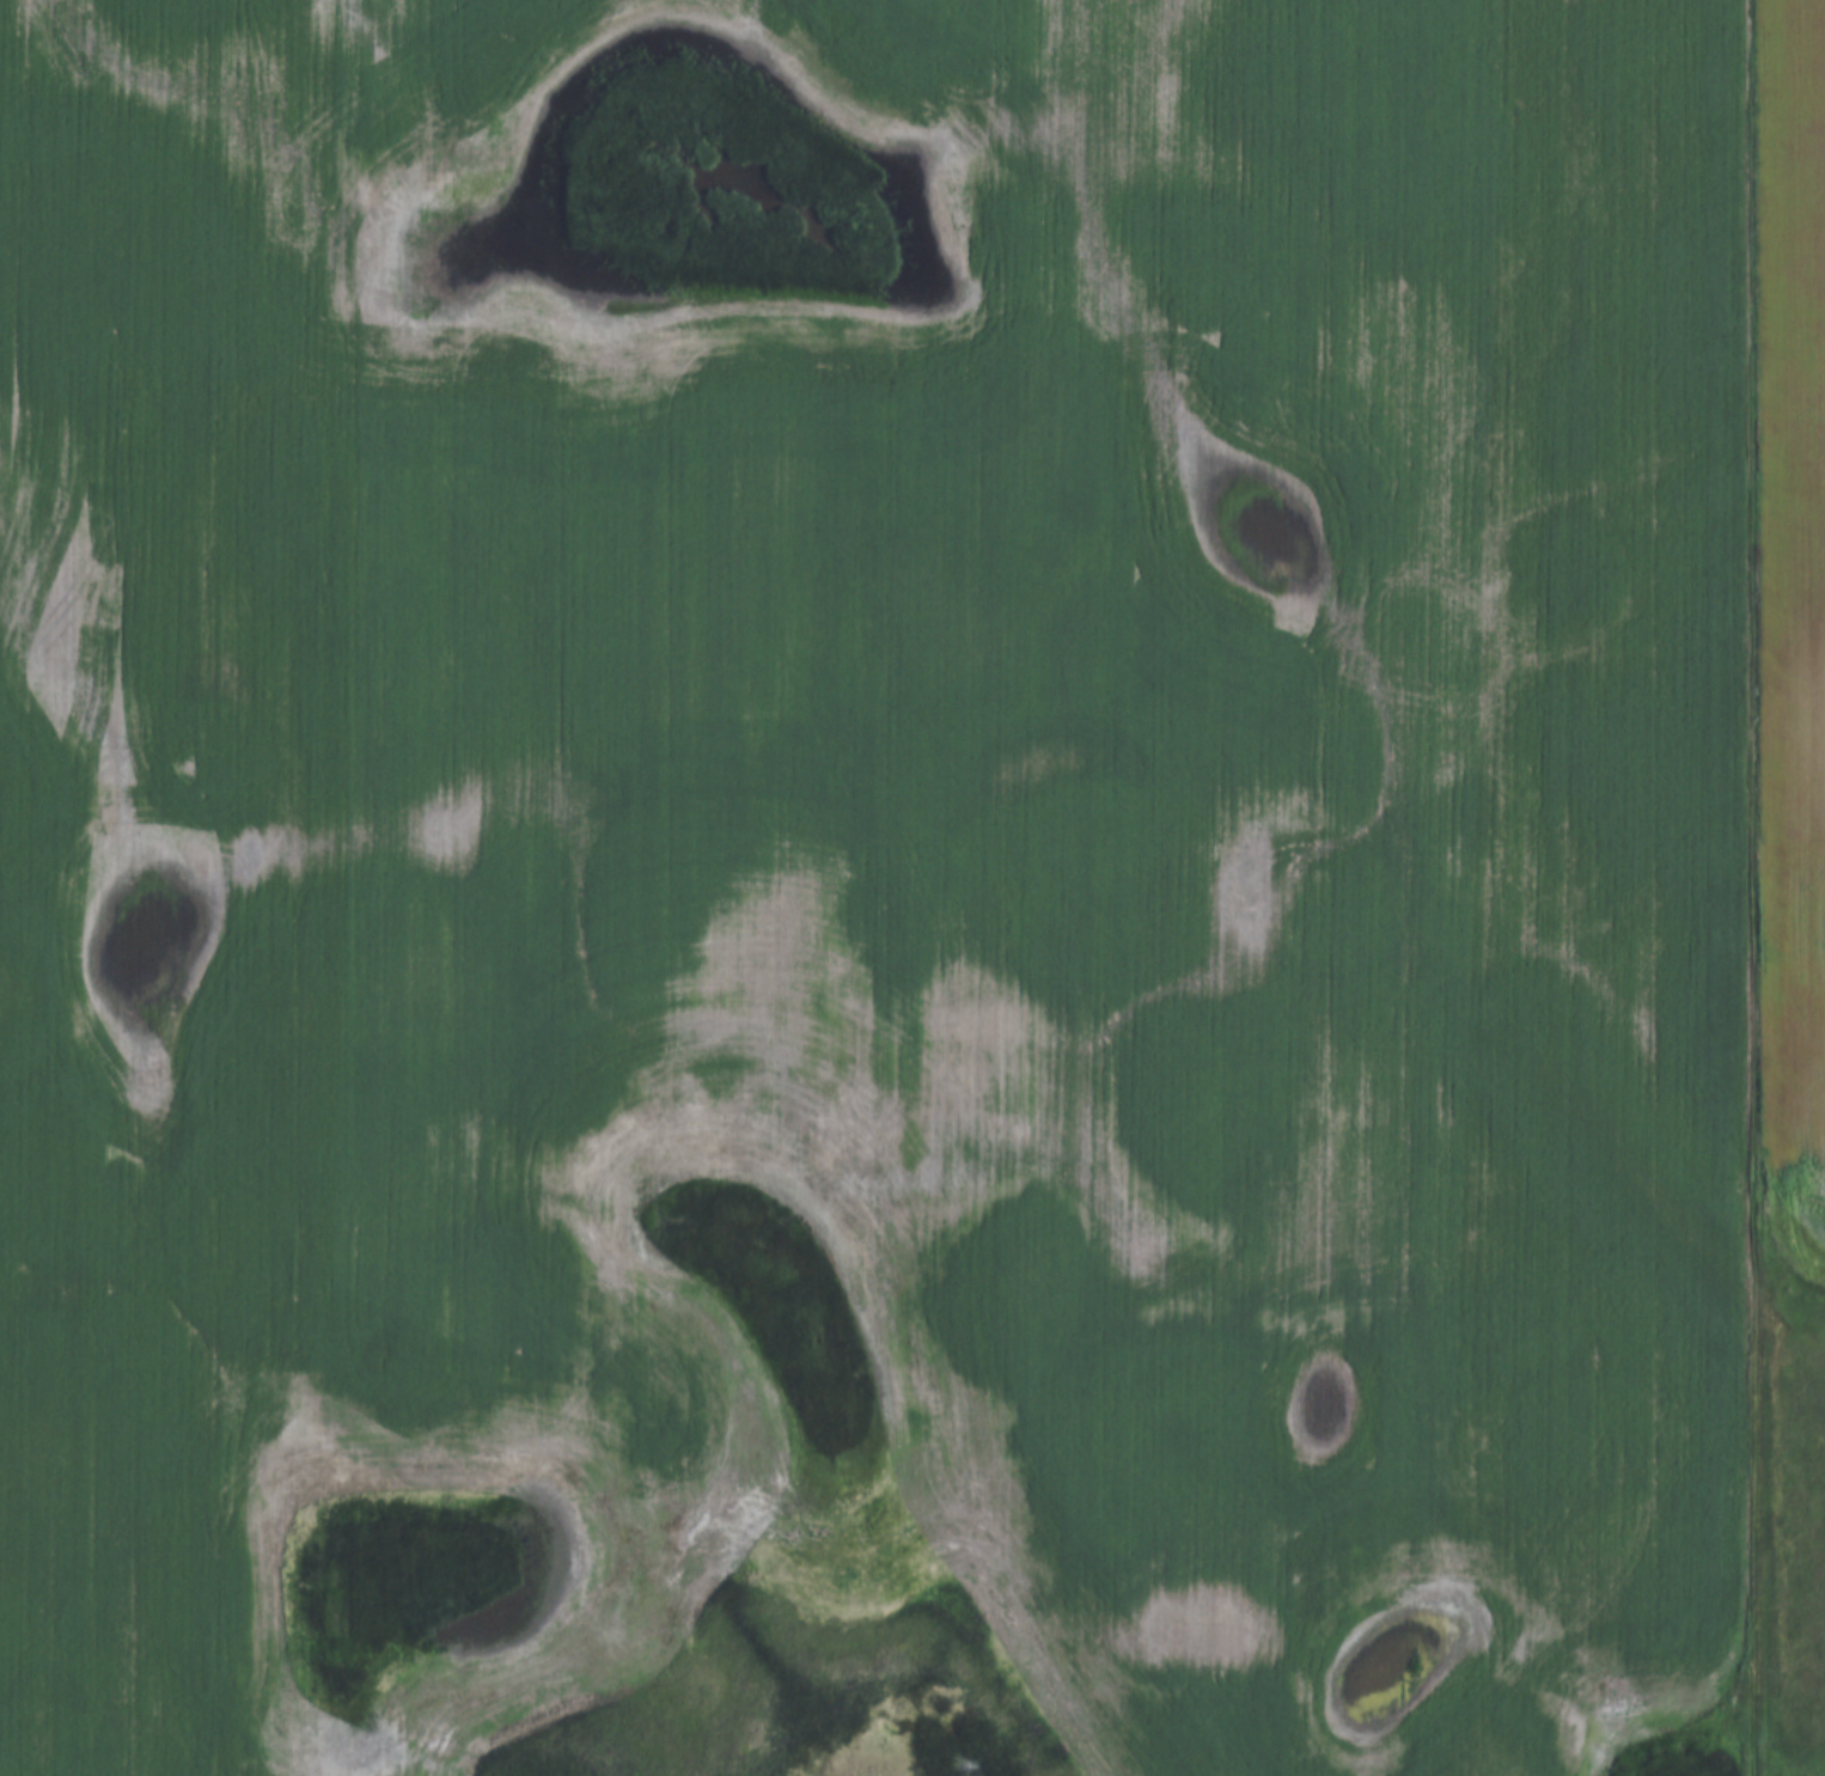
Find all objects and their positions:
road: (1750, 887)

